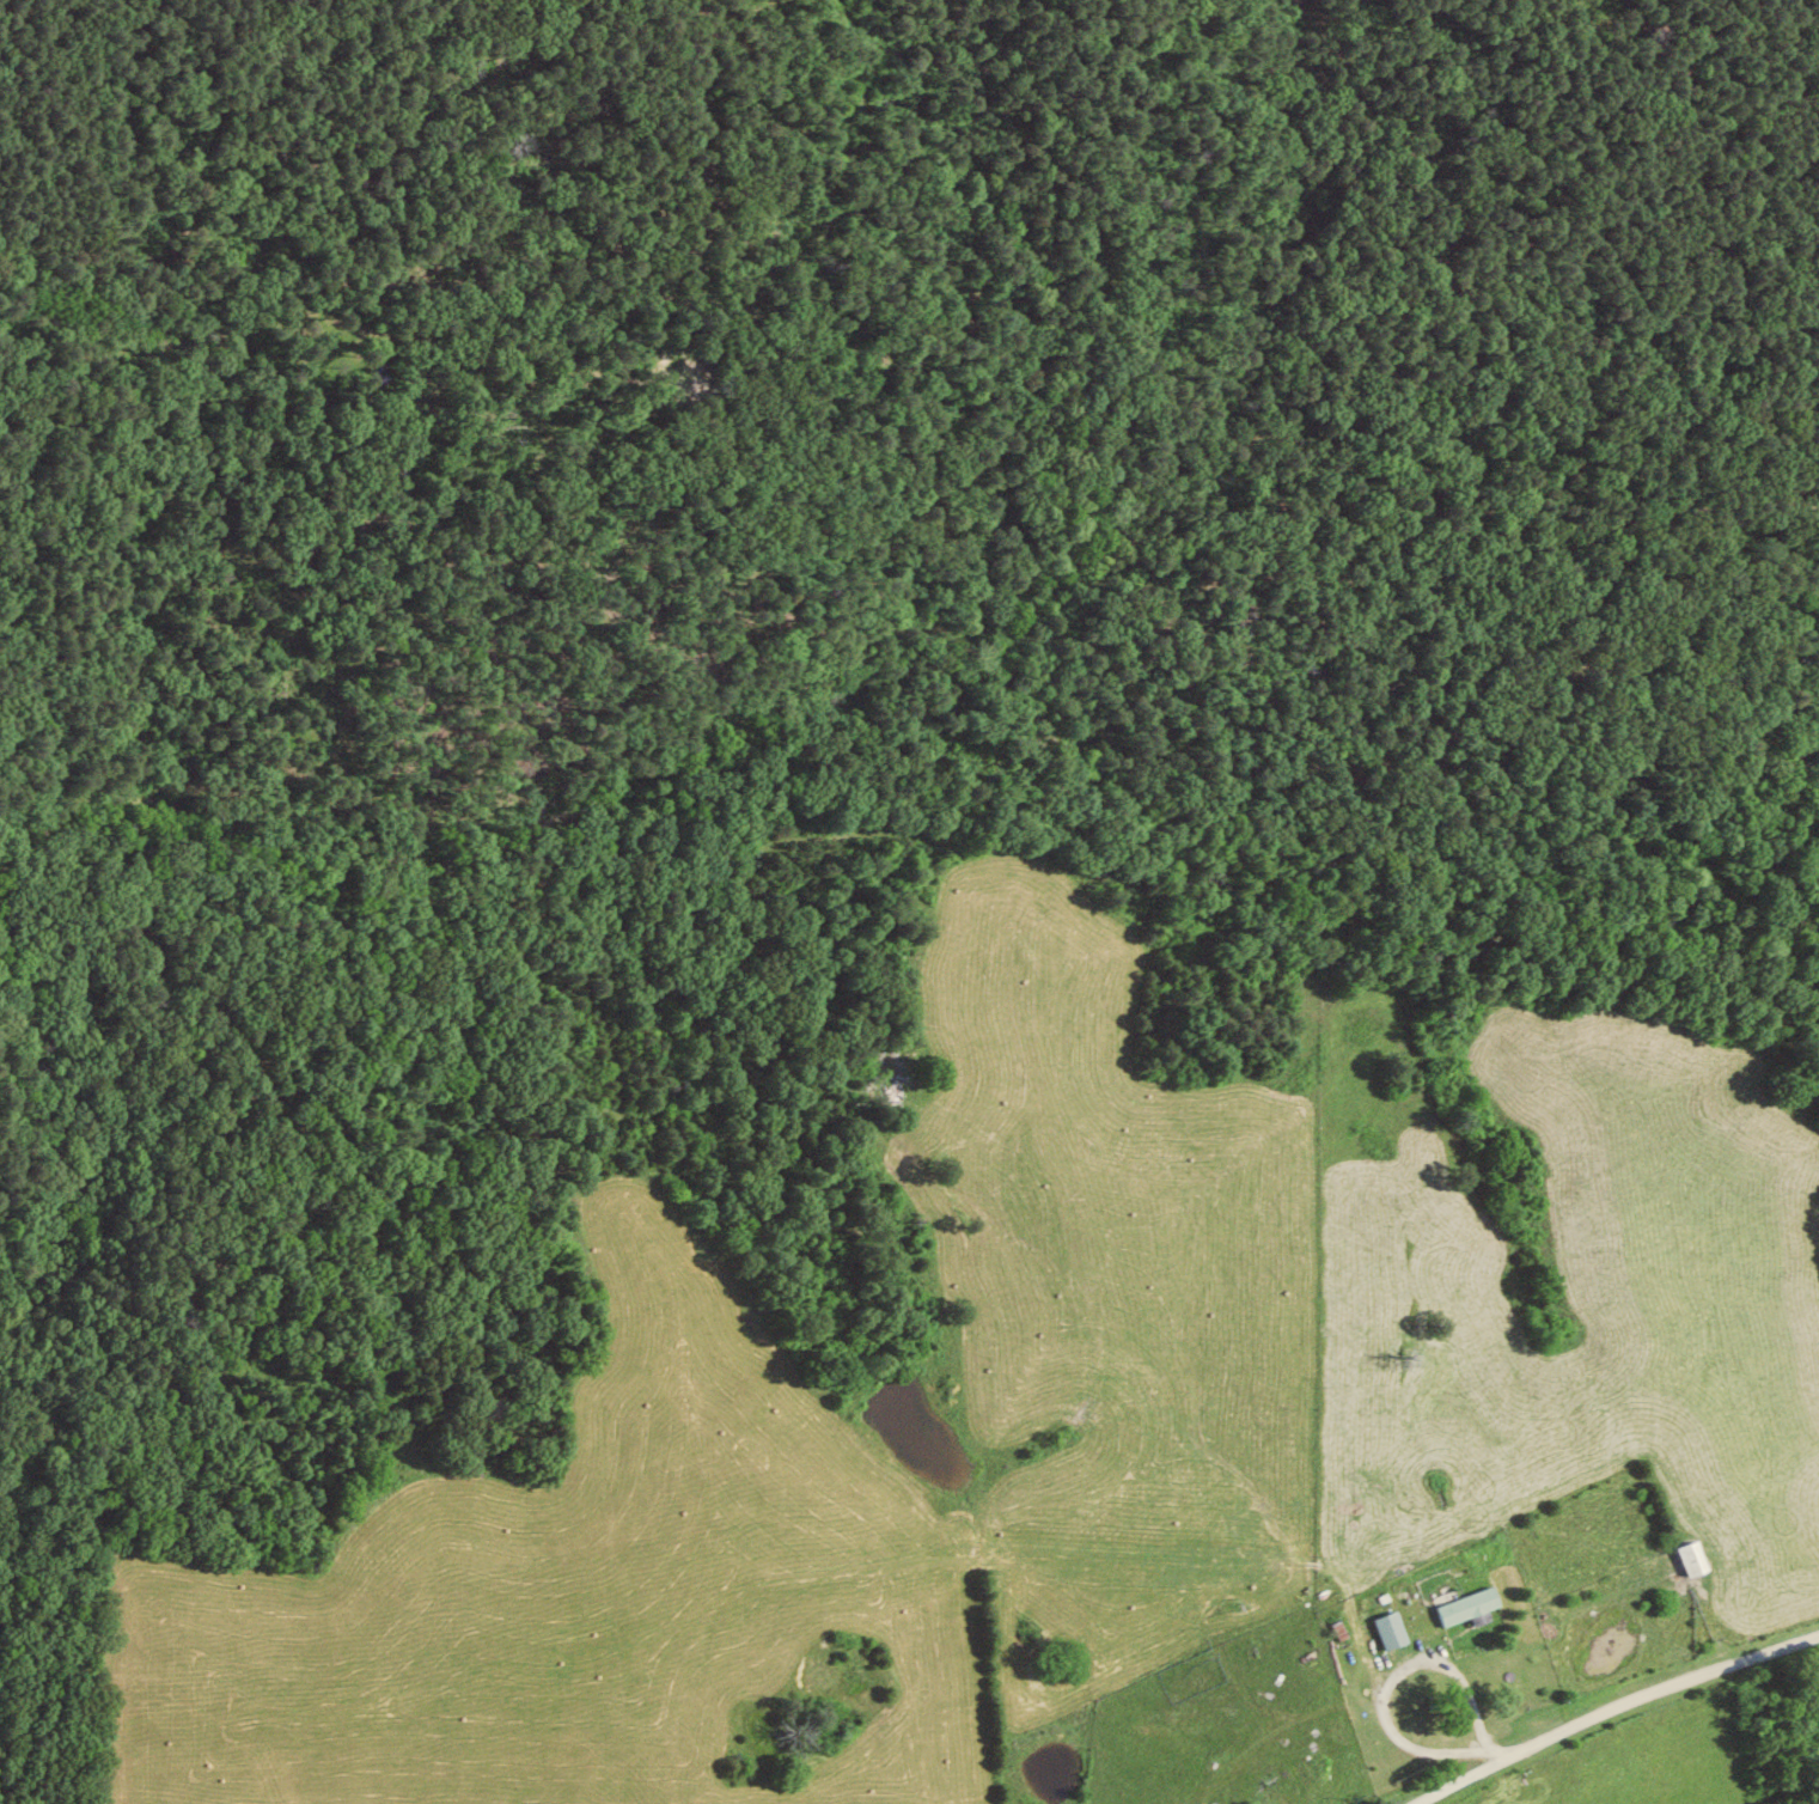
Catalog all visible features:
building: (1693, 1558)
building: (1469, 1605)
building: (1391, 1629)
road: (1377, 1706)
road: (1612, 1711)
road: (1485, 1756)

